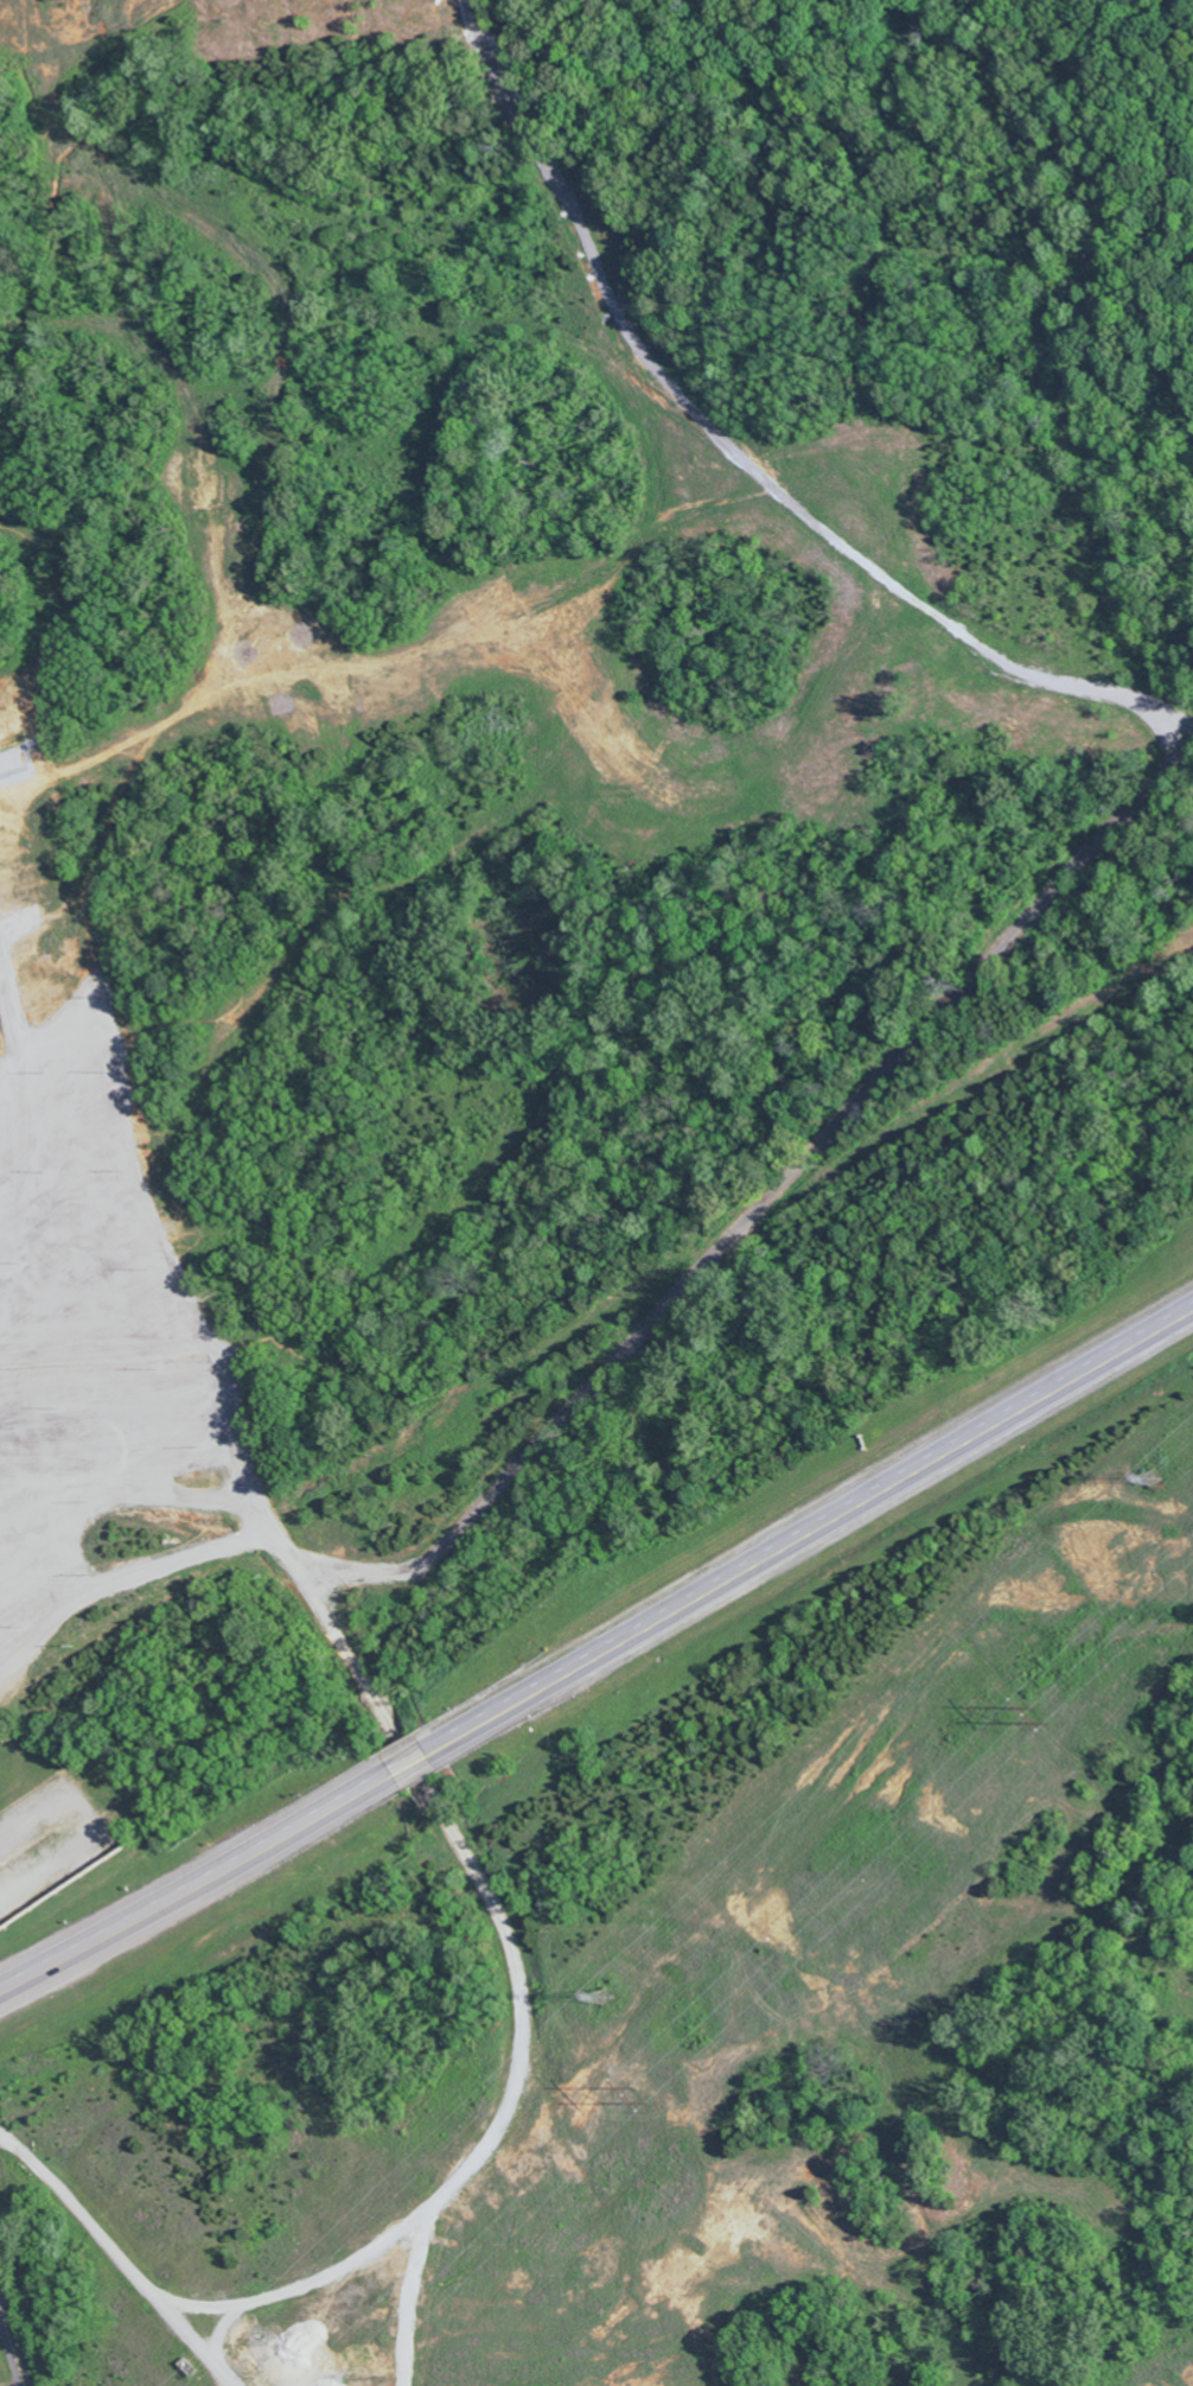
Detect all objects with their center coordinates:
road: (24, 1115)
road: (757, 1208)
power tower: (1150, 1477)
road: (138, 1490)
road: (810, 1527)
power tower: (1041, 1714)
road: (410, 1762)
road: (435, 1801)
road: (198, 1882)
power tower: (607, 1997)
power tower: (640, 2097)
road: (119, 2259)
road: (312, 2279)
road: (8, 2359)

